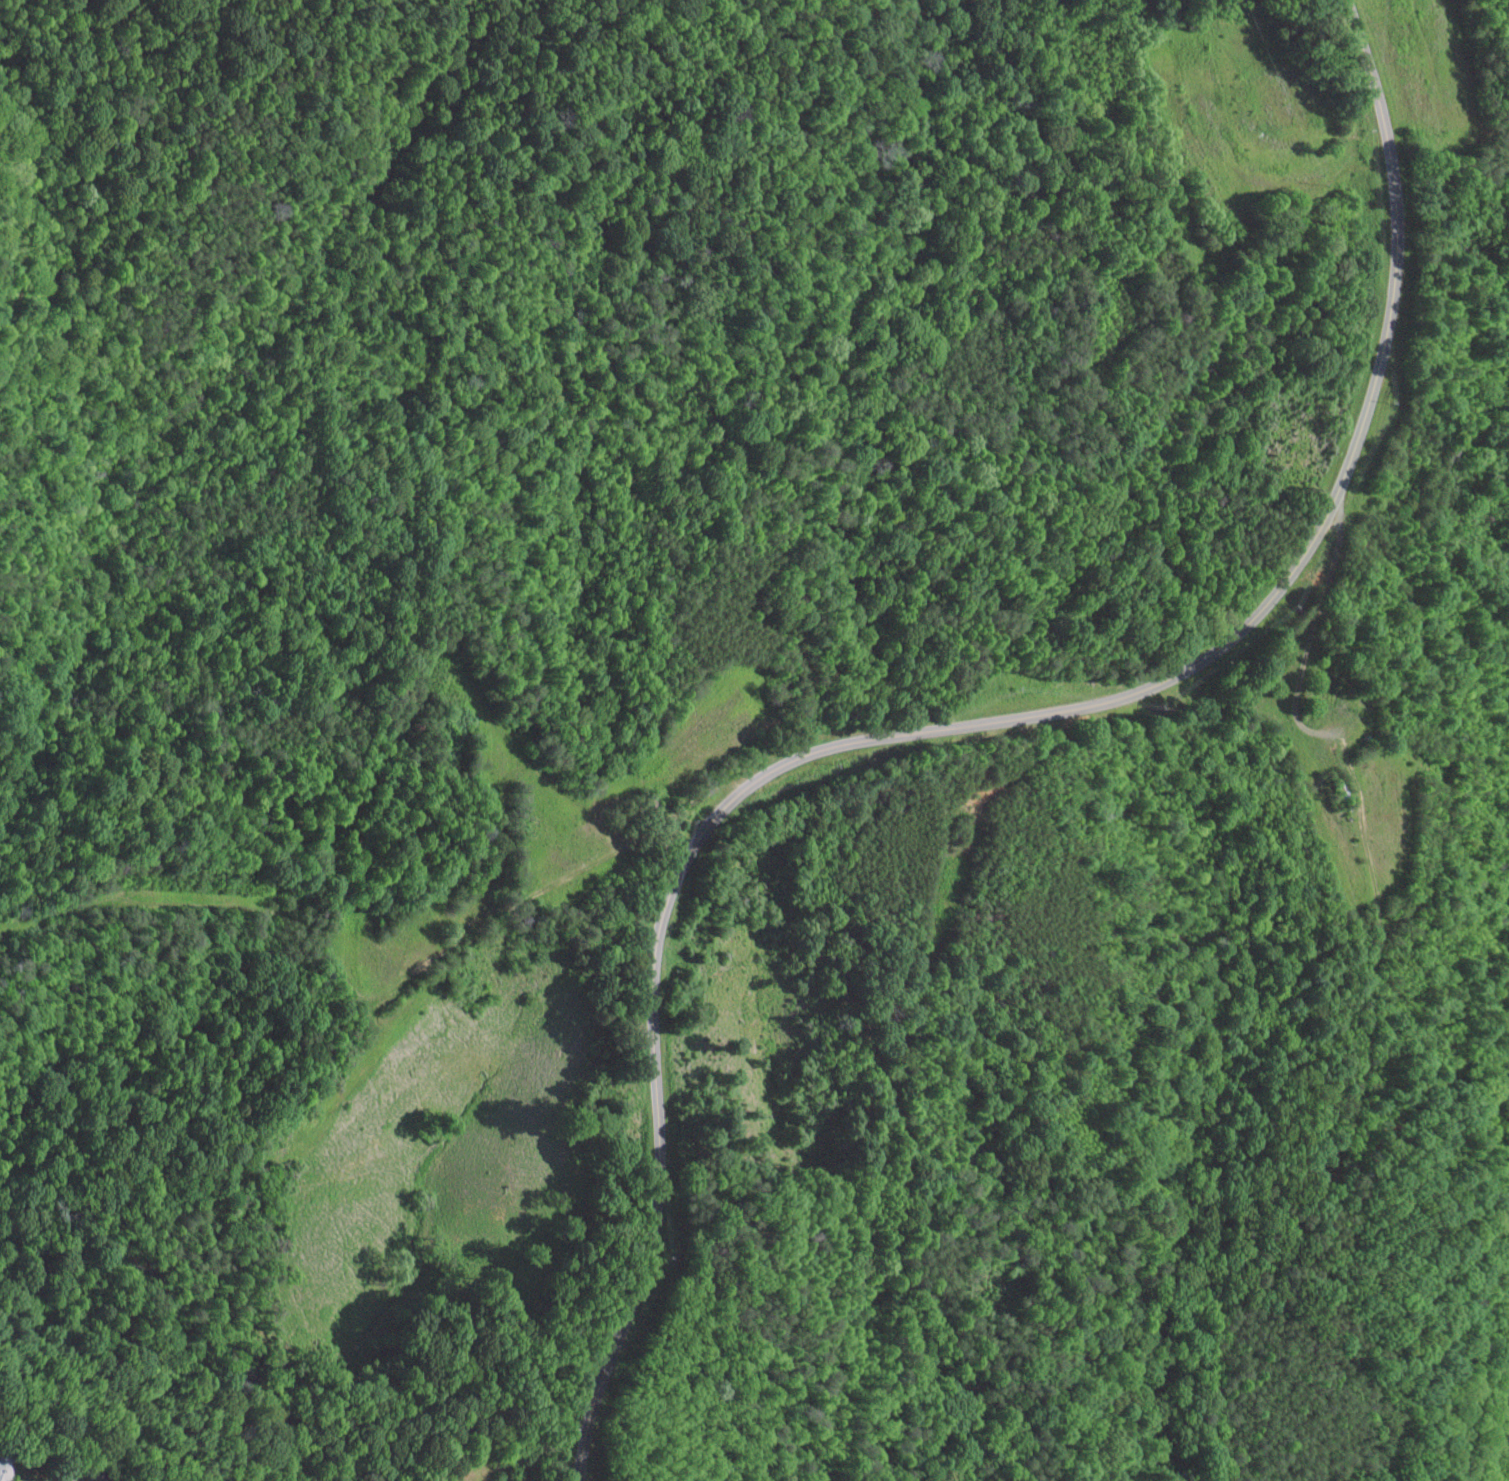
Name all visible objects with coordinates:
road: (972, 726)
road: (77, 1475)

